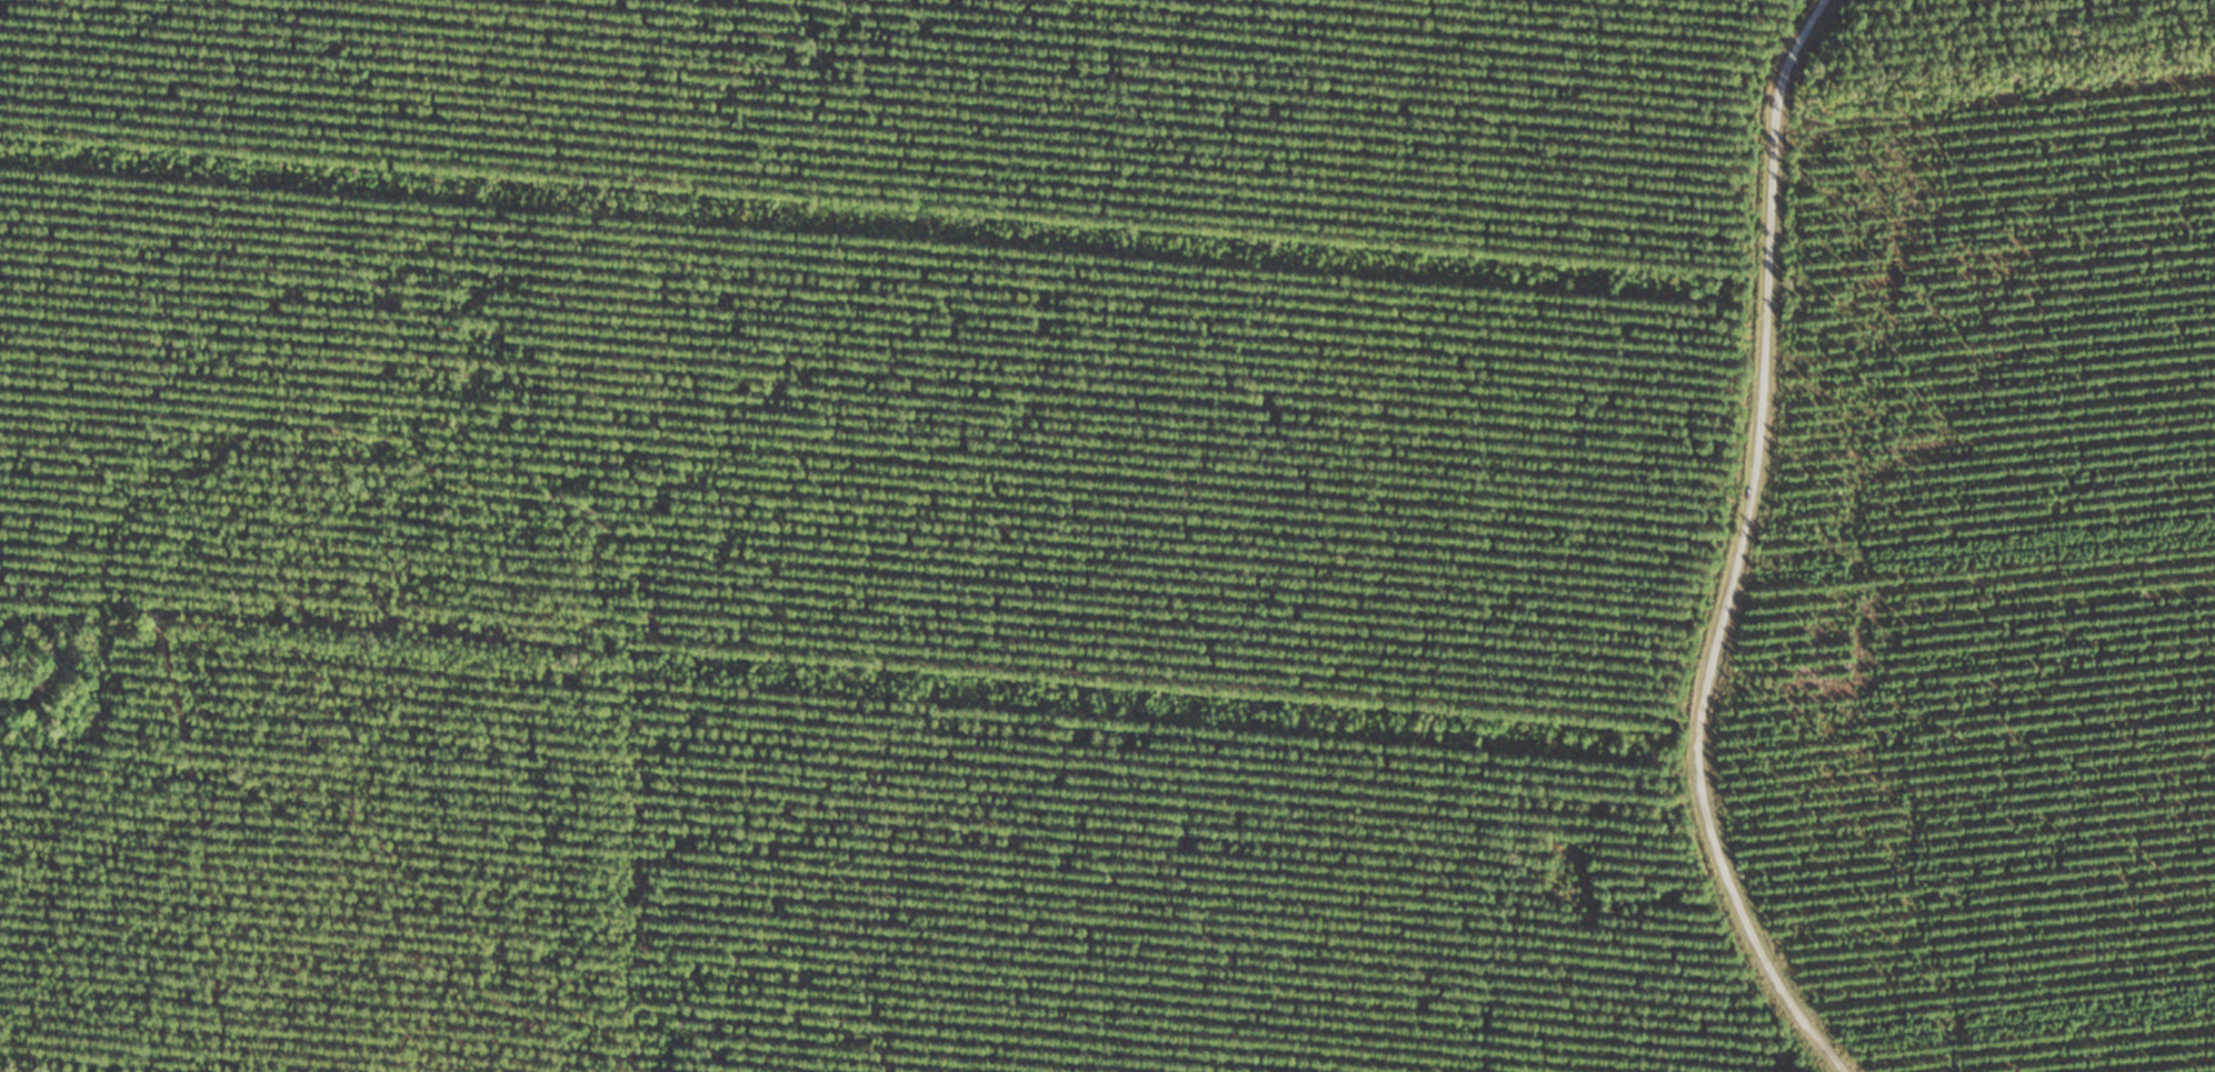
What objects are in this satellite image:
road: (1707, 549)

